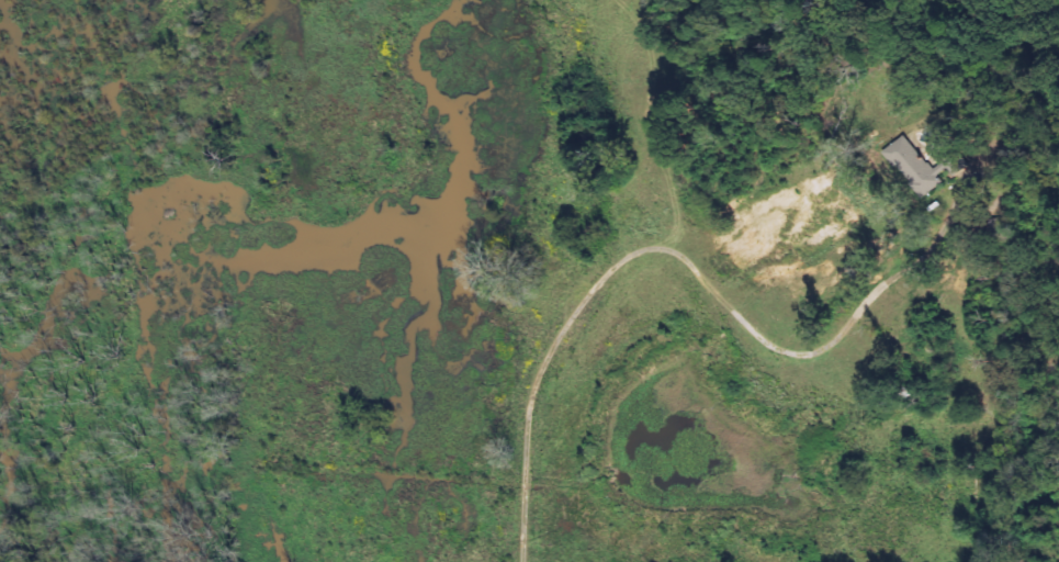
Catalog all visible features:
building: (917, 166)

